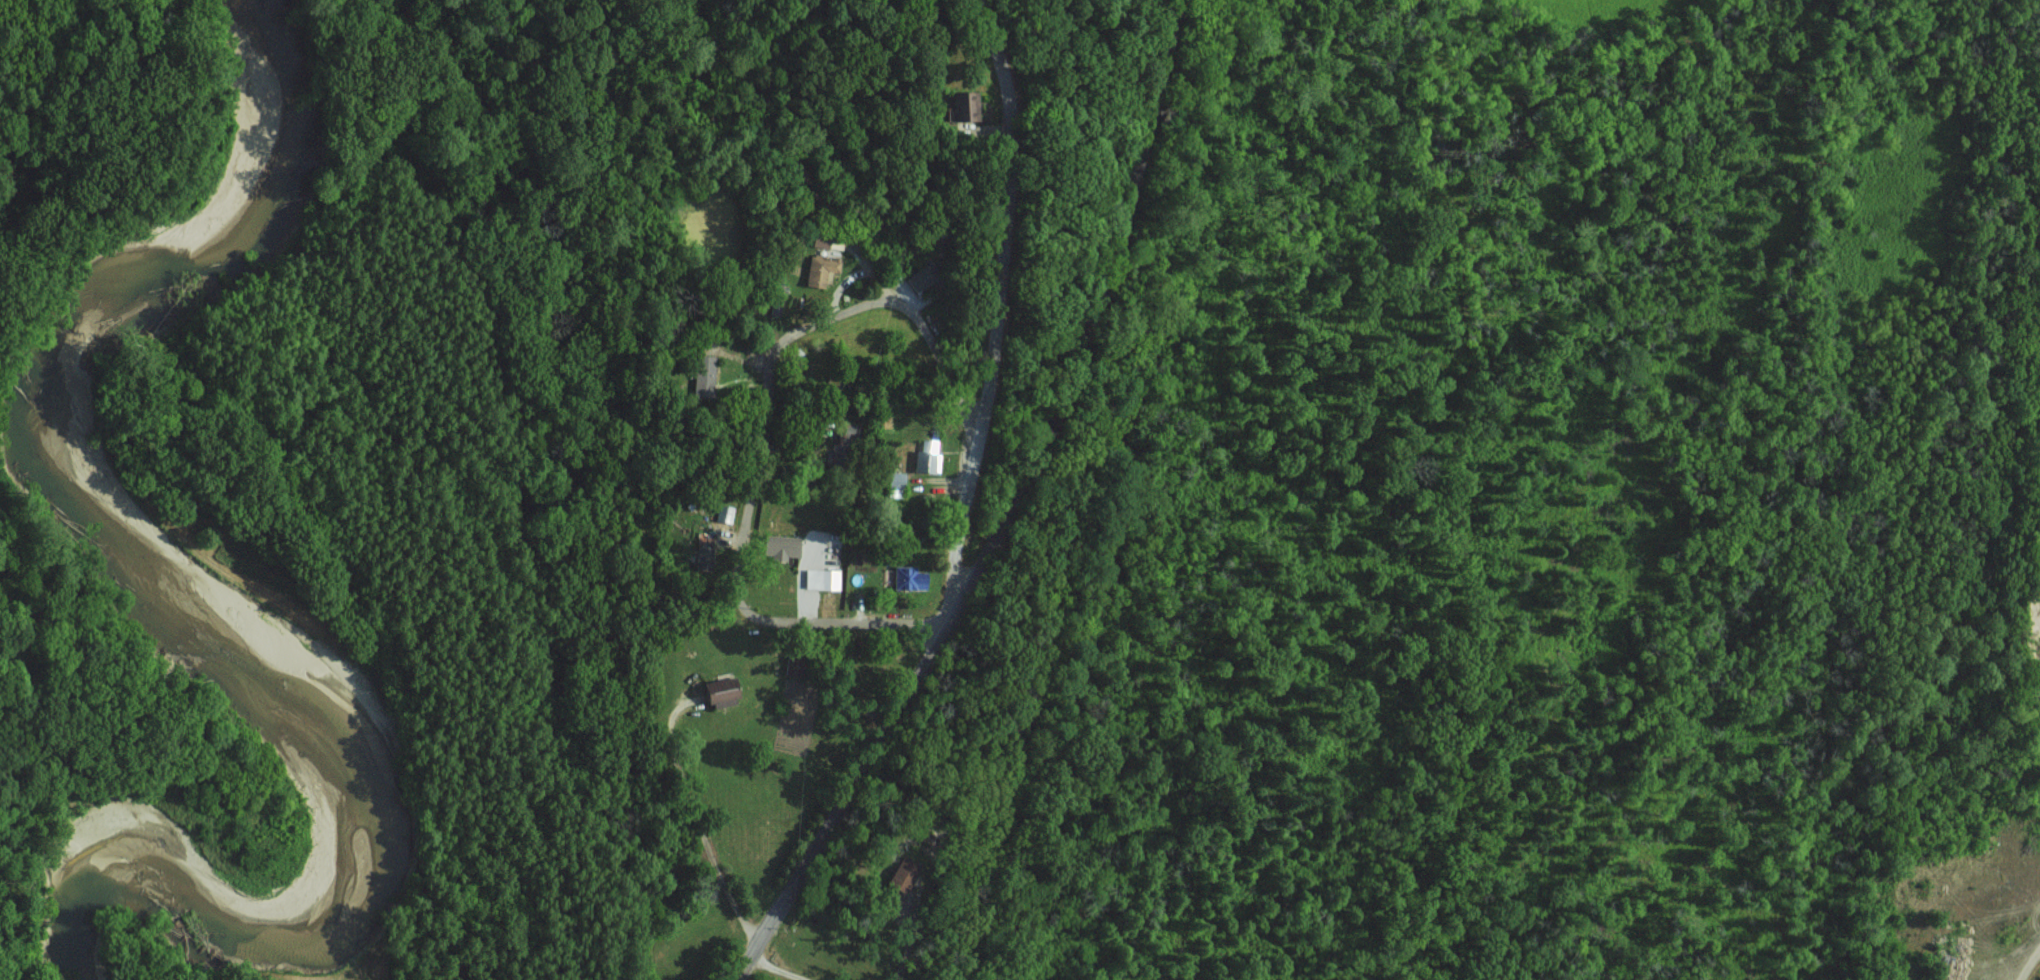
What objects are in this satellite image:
building: (956, 109)
road: (828, 223)
building: (818, 269)
road: (996, 300)
road: (1100, 313)
building: (703, 375)
building: (927, 457)
building: (722, 513)
road: (746, 513)
building: (776, 547)
building: (906, 578)
building: (819, 579)
river: (197, 619)
building: (715, 692)
road: (856, 795)
road: (709, 848)
building: (904, 873)
road: (1981, 910)

